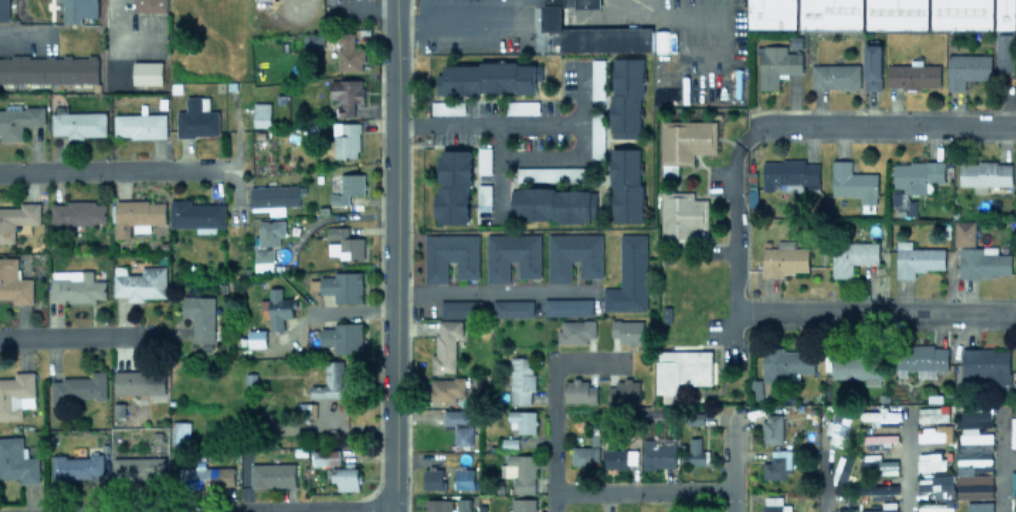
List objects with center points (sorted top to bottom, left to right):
building: (587, 3)
road: (524, 4)
building: (149, 5)
building: (89, 8)
building: (4, 9)
building: (72, 11)
building: (772, 13)
building: (831, 13)
building: (897, 14)
building: (962, 14)
building: (1006, 14)
road: (458, 17)
road: (115, 25)
road: (41, 34)
building: (593, 34)
building: (313, 40)
building: (349, 53)
building: (1005, 57)
building: (777, 64)
building: (48, 67)
building: (873, 67)
building: (967, 69)
building: (147, 72)
building: (835, 75)
building: (913, 75)
building: (486, 77)
building: (597, 78)
building: (346, 94)
building: (626, 96)
building: (446, 107)
building: (259, 114)
building: (197, 118)
building: (19, 119)
building: (78, 122)
building: (139, 125)
road: (463, 125)
road: (403, 126)
road: (879, 127)
road: (1015, 127)
building: (597, 134)
building: (345, 139)
building: (685, 141)
building: (483, 160)
road: (560, 163)
road: (106, 169)
building: (551, 173)
building: (985, 173)
building: (791, 175)
building: (916, 175)
building: (853, 182)
building: (626, 184)
building: (452, 185)
building: (348, 187)
building: (483, 196)
building: (274, 197)
building: (551, 203)
building: (78, 213)
building: (195, 214)
building: (137, 215)
building: (683, 215)
building: (17, 218)
road: (730, 218)
building: (270, 231)
building: (964, 232)
building: (344, 243)
building: (512, 254)
building: (573, 254)
road: (394, 255)
road: (408, 255)
building: (449, 255)
building: (851, 256)
building: (263, 259)
road: (379, 259)
building: (783, 259)
building: (917, 259)
building: (984, 262)
building: (628, 275)
building: (14, 282)
building: (140, 282)
building: (76, 285)
building: (342, 286)
road: (486, 291)
building: (567, 306)
building: (512, 307)
building: (278, 308)
building: (460, 308)
road: (875, 313)
building: (200, 319)
building: (576, 330)
building: (626, 332)
road: (77, 334)
building: (256, 337)
building: (342, 337)
building: (446, 343)
building: (921, 359)
building: (786, 364)
building: (987, 364)
building: (854, 367)
building: (680, 369)
building: (521, 379)
building: (139, 381)
building: (331, 382)
building: (79, 387)
building: (446, 388)
building: (579, 390)
building: (624, 391)
building: (16, 394)
building: (931, 413)
building: (882, 416)
building: (976, 417)
building: (521, 420)
building: (459, 425)
building: (772, 428)
building: (838, 428)
building: (180, 432)
building: (1013, 432)
building: (934, 433)
building: (974, 435)
road: (552, 439)
building: (878, 440)
building: (586, 453)
building: (695, 453)
building: (658, 454)
building: (325, 457)
building: (619, 457)
building: (17, 460)
road: (1008, 460)
building: (930, 461)
road: (904, 462)
building: (778, 464)
building: (973, 464)
road: (999, 464)
building: (877, 465)
road: (731, 466)
building: (76, 467)
building: (138, 468)
road: (824, 470)
building: (520, 471)
building: (272, 474)
building: (841, 474)
building: (207, 477)
building: (345, 477)
building: (432, 478)
building: (464, 478)
building: (936, 482)
building: (1013, 482)
building: (974, 486)
road: (641, 490)
building: (879, 490)
building: (463, 504)
building: (775, 504)
building: (438, 505)
building: (522, 505)
building: (980, 506)
building: (883, 507)
building: (935, 507)
building: (844, 509)
road: (308, 510)
building: (1015, 511)

